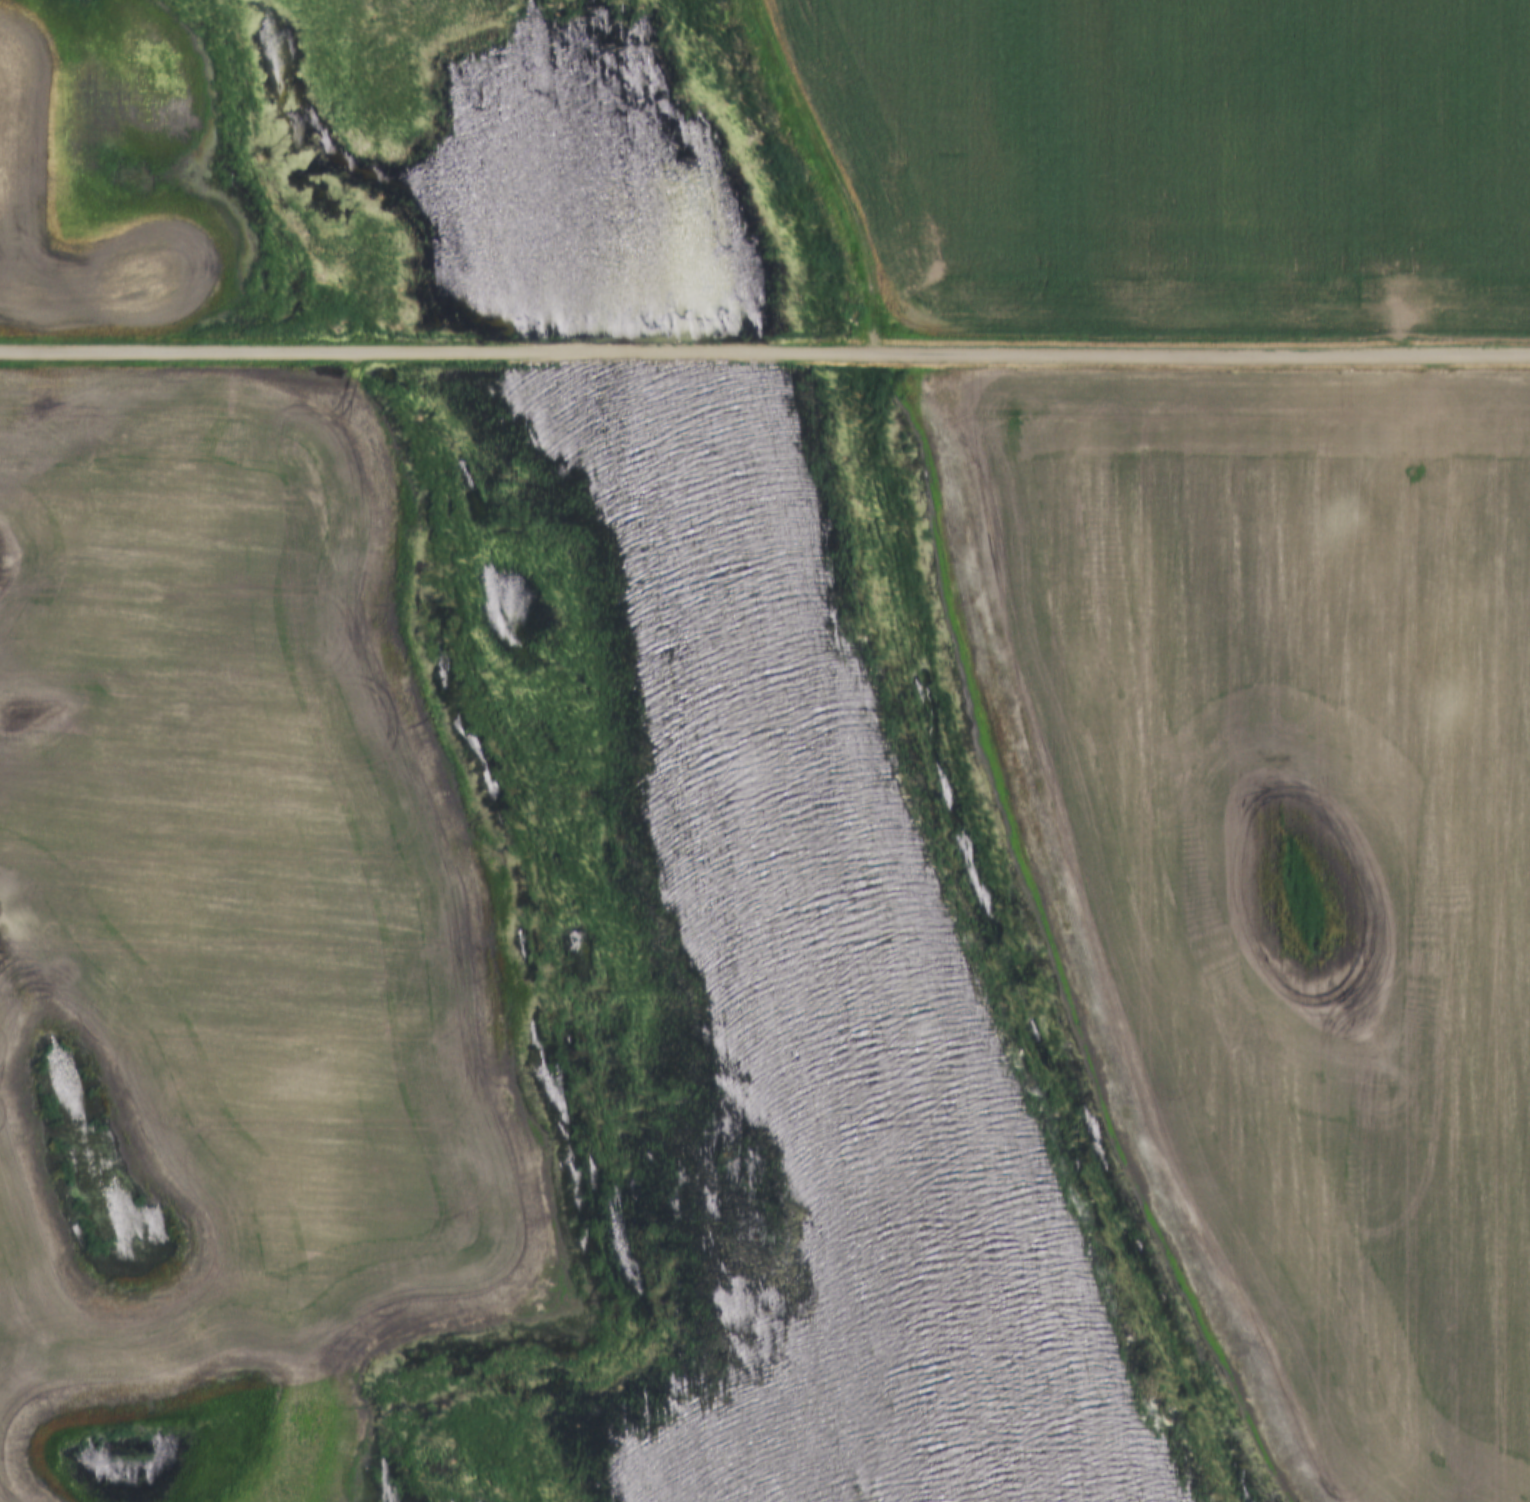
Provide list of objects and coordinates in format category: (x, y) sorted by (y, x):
road: (765, 352)

